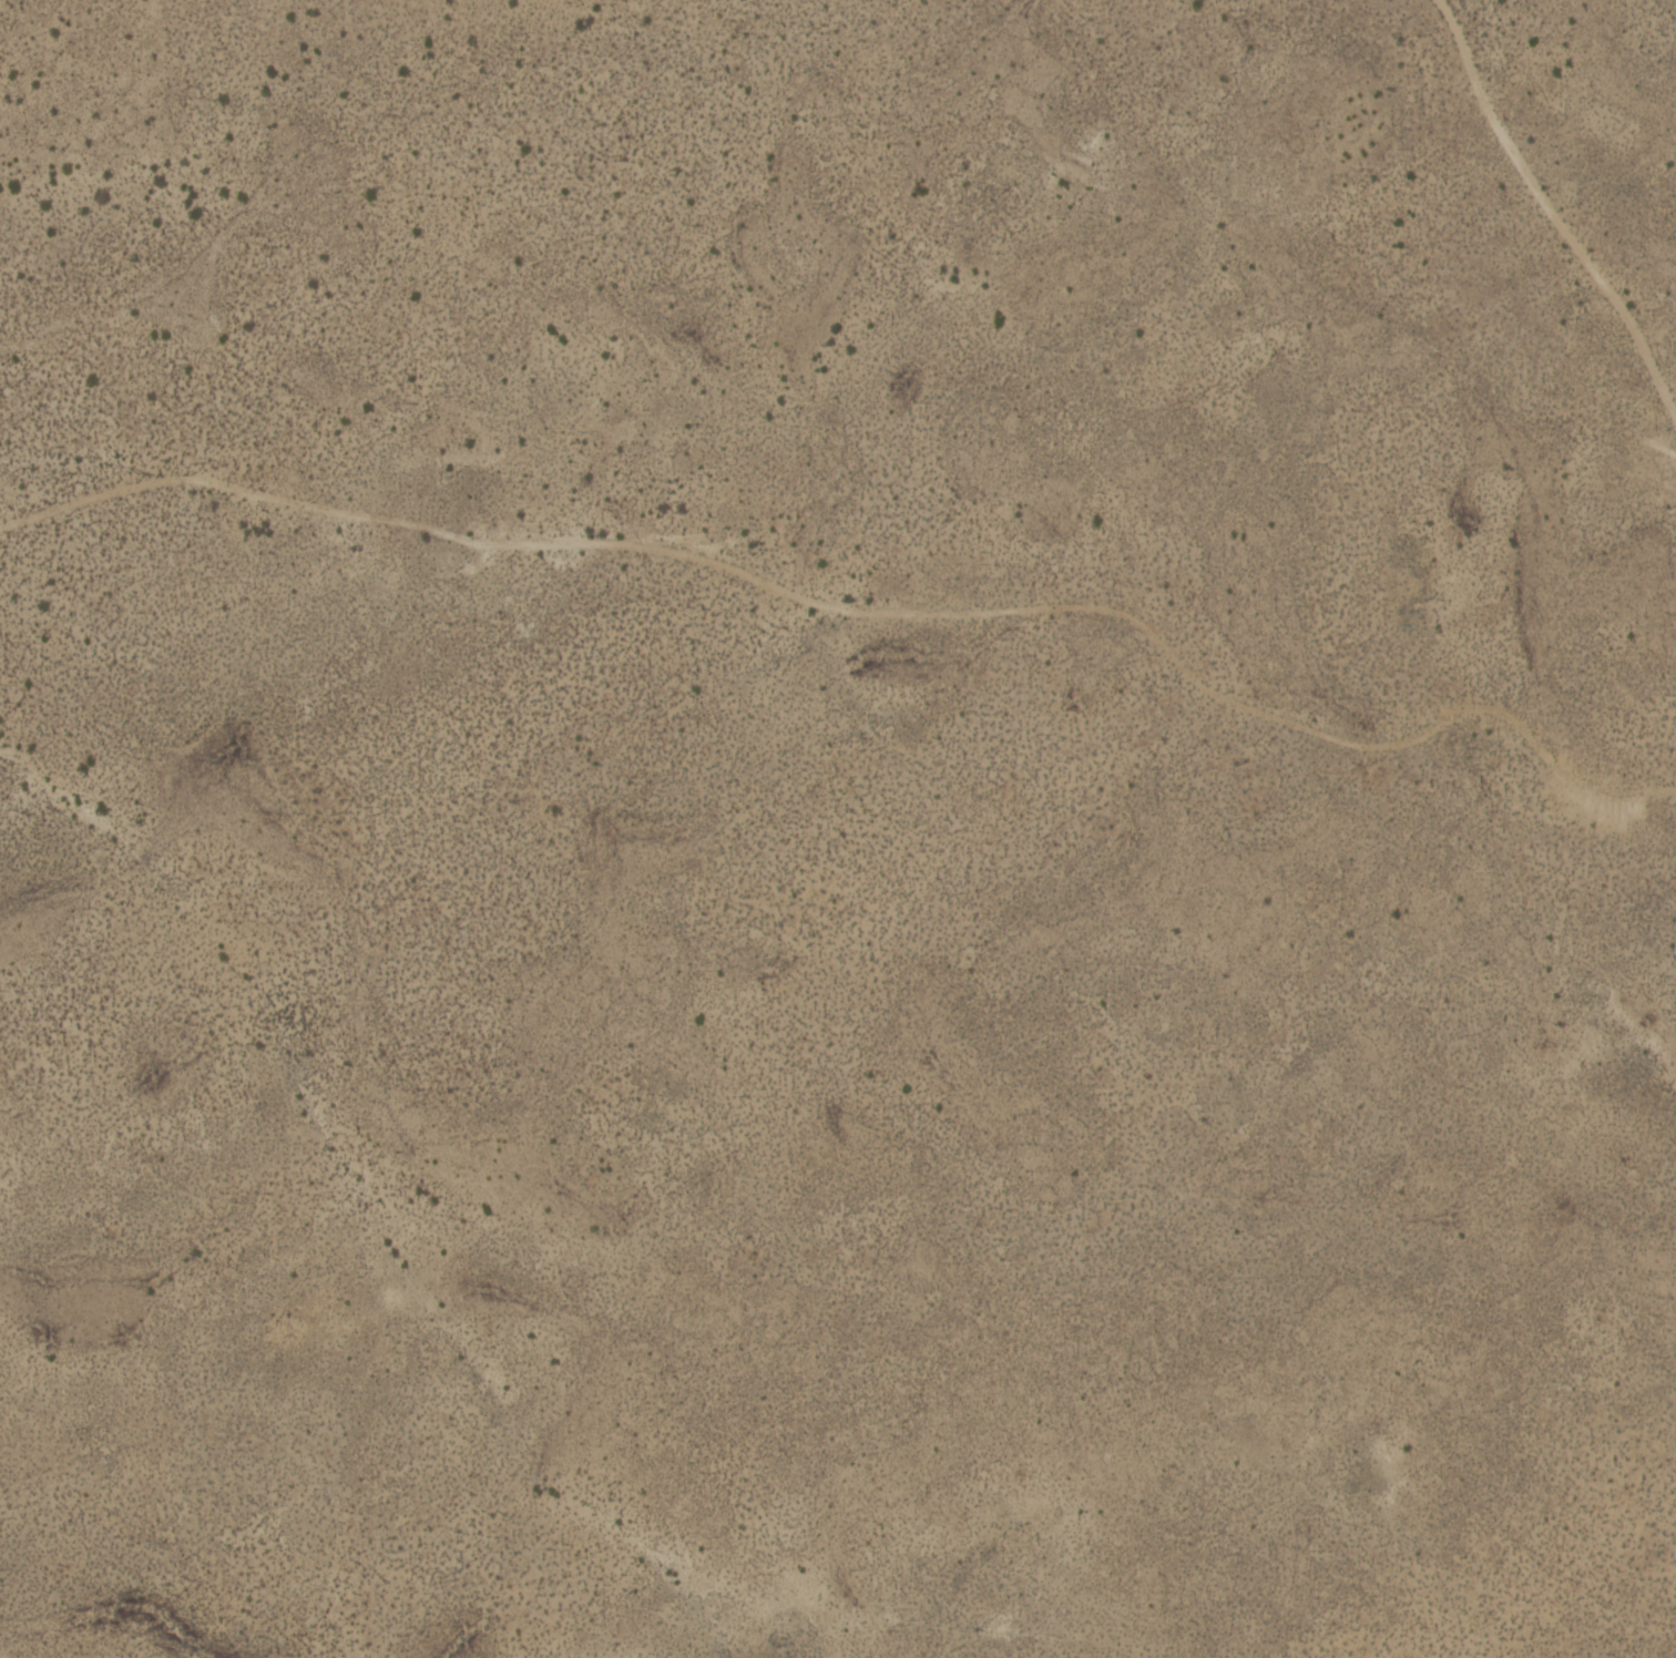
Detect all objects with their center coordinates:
road: (1531, 239)

